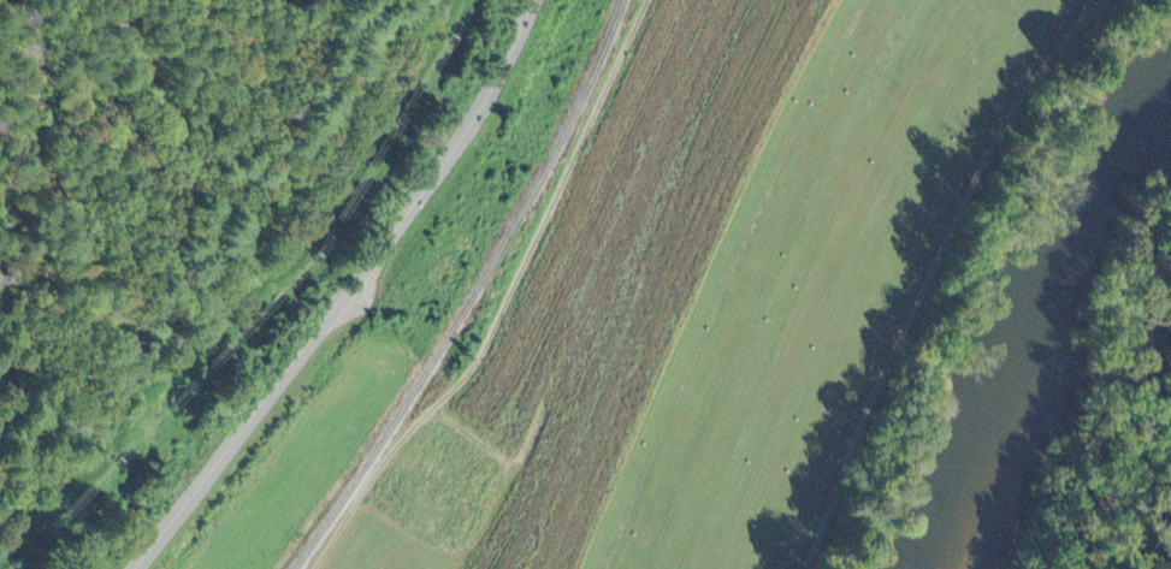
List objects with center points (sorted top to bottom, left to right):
road: (347, 290)
railway: (474, 294)
river: (1034, 319)

